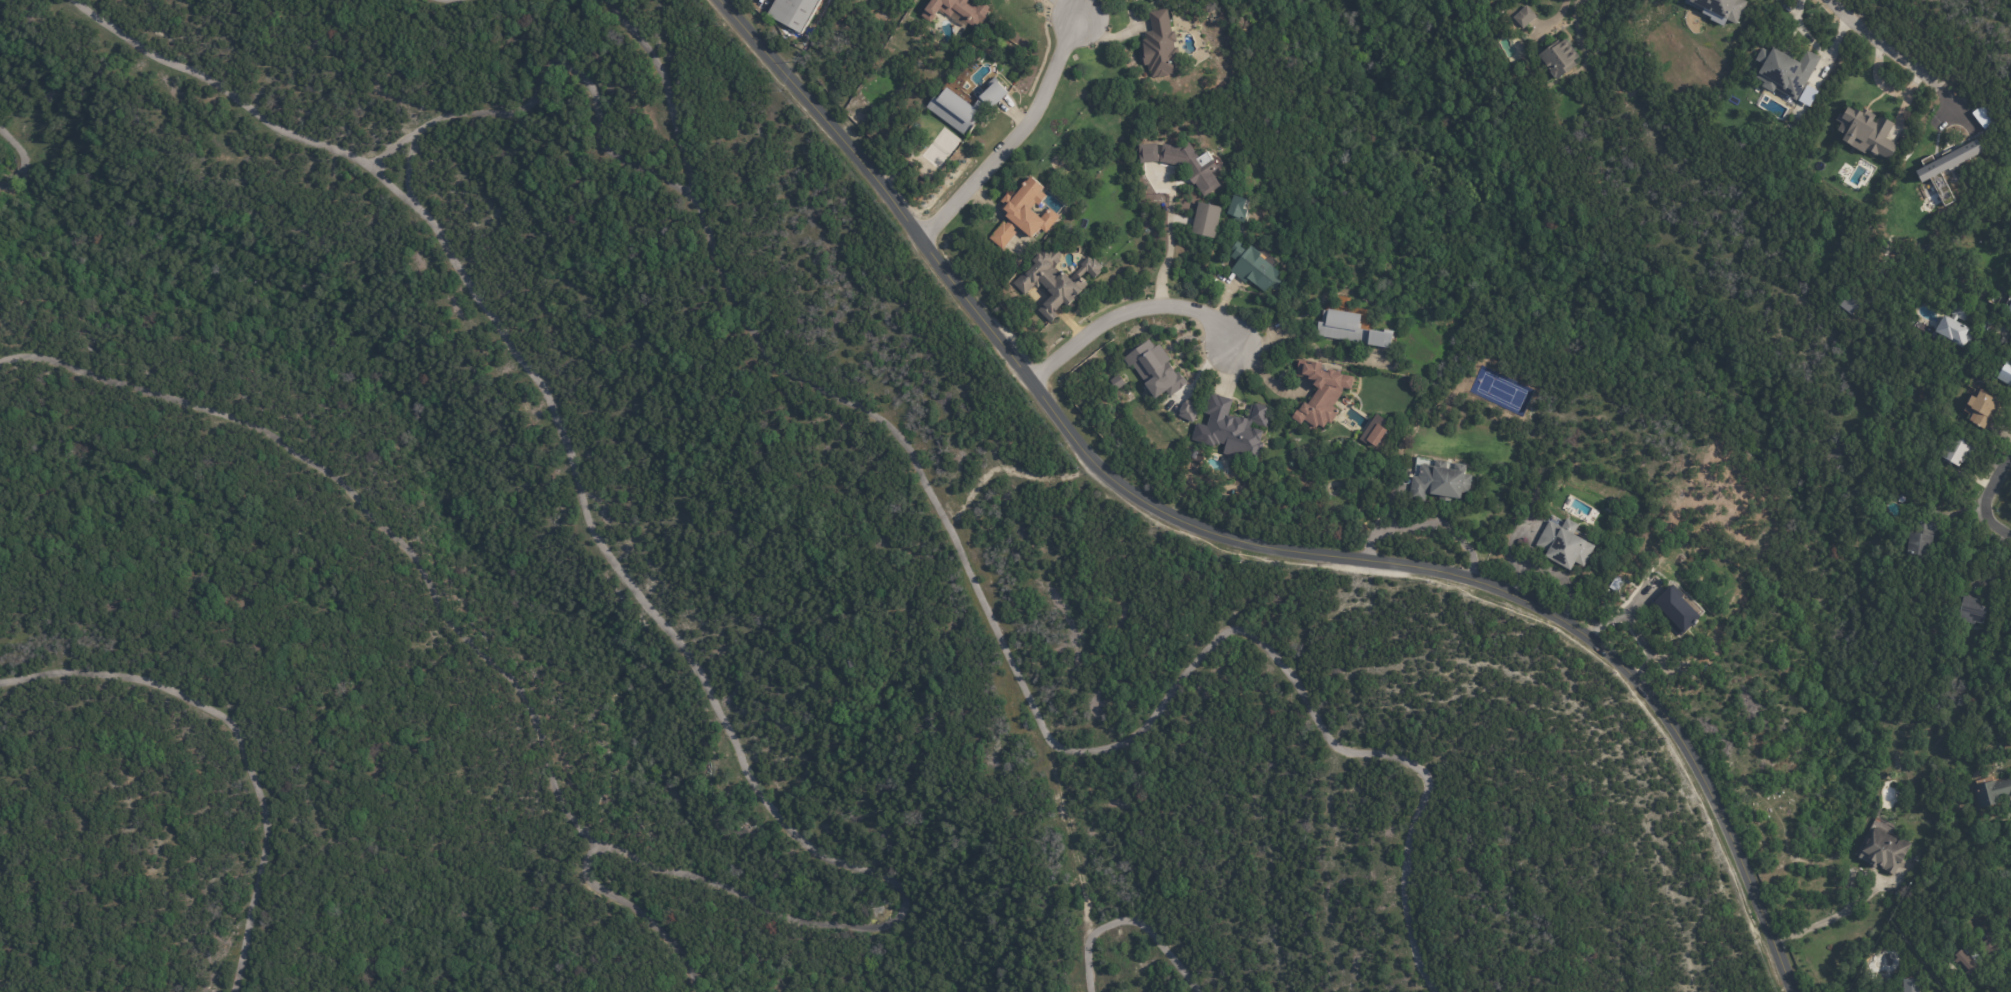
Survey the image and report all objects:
road: (1070, 6)
building: (1719, 9)
building: (958, 10)
building: (795, 13)
building: (1522, 18)
building: (1164, 46)
building: (1558, 58)
road: (1900, 60)
building: (1782, 73)
building: (968, 107)
building: (1866, 133)
road: (1018, 136)
building: (1185, 161)
building: (1239, 207)
building: (1023, 212)
building: (1207, 219)
road: (1168, 237)
building: (1259, 269)
building: (1054, 278)
building: (2009, 307)
road: (1125, 308)
building: (1955, 324)
road: (1996, 331)
building: (1357, 332)
building: (1154, 369)
road: (1259, 372)
building: (2005, 374)
building: (1978, 385)
building: (1322, 392)
building: (1188, 410)
building: (1978, 411)
building: (1235, 430)
building: (1378, 433)
building: (1195, 454)
building: (1954, 454)
building: (1440, 482)
road: (1997, 488)
road: (1428, 524)
road: (1994, 528)
building: (1920, 536)
road: (1245, 543)
building: (1564, 546)
building: (1675, 610)
building: (1968, 613)
building: (1990, 792)
building: (1882, 854)
building: (1992, 950)
building: (1963, 964)
building: (1907, 986)

